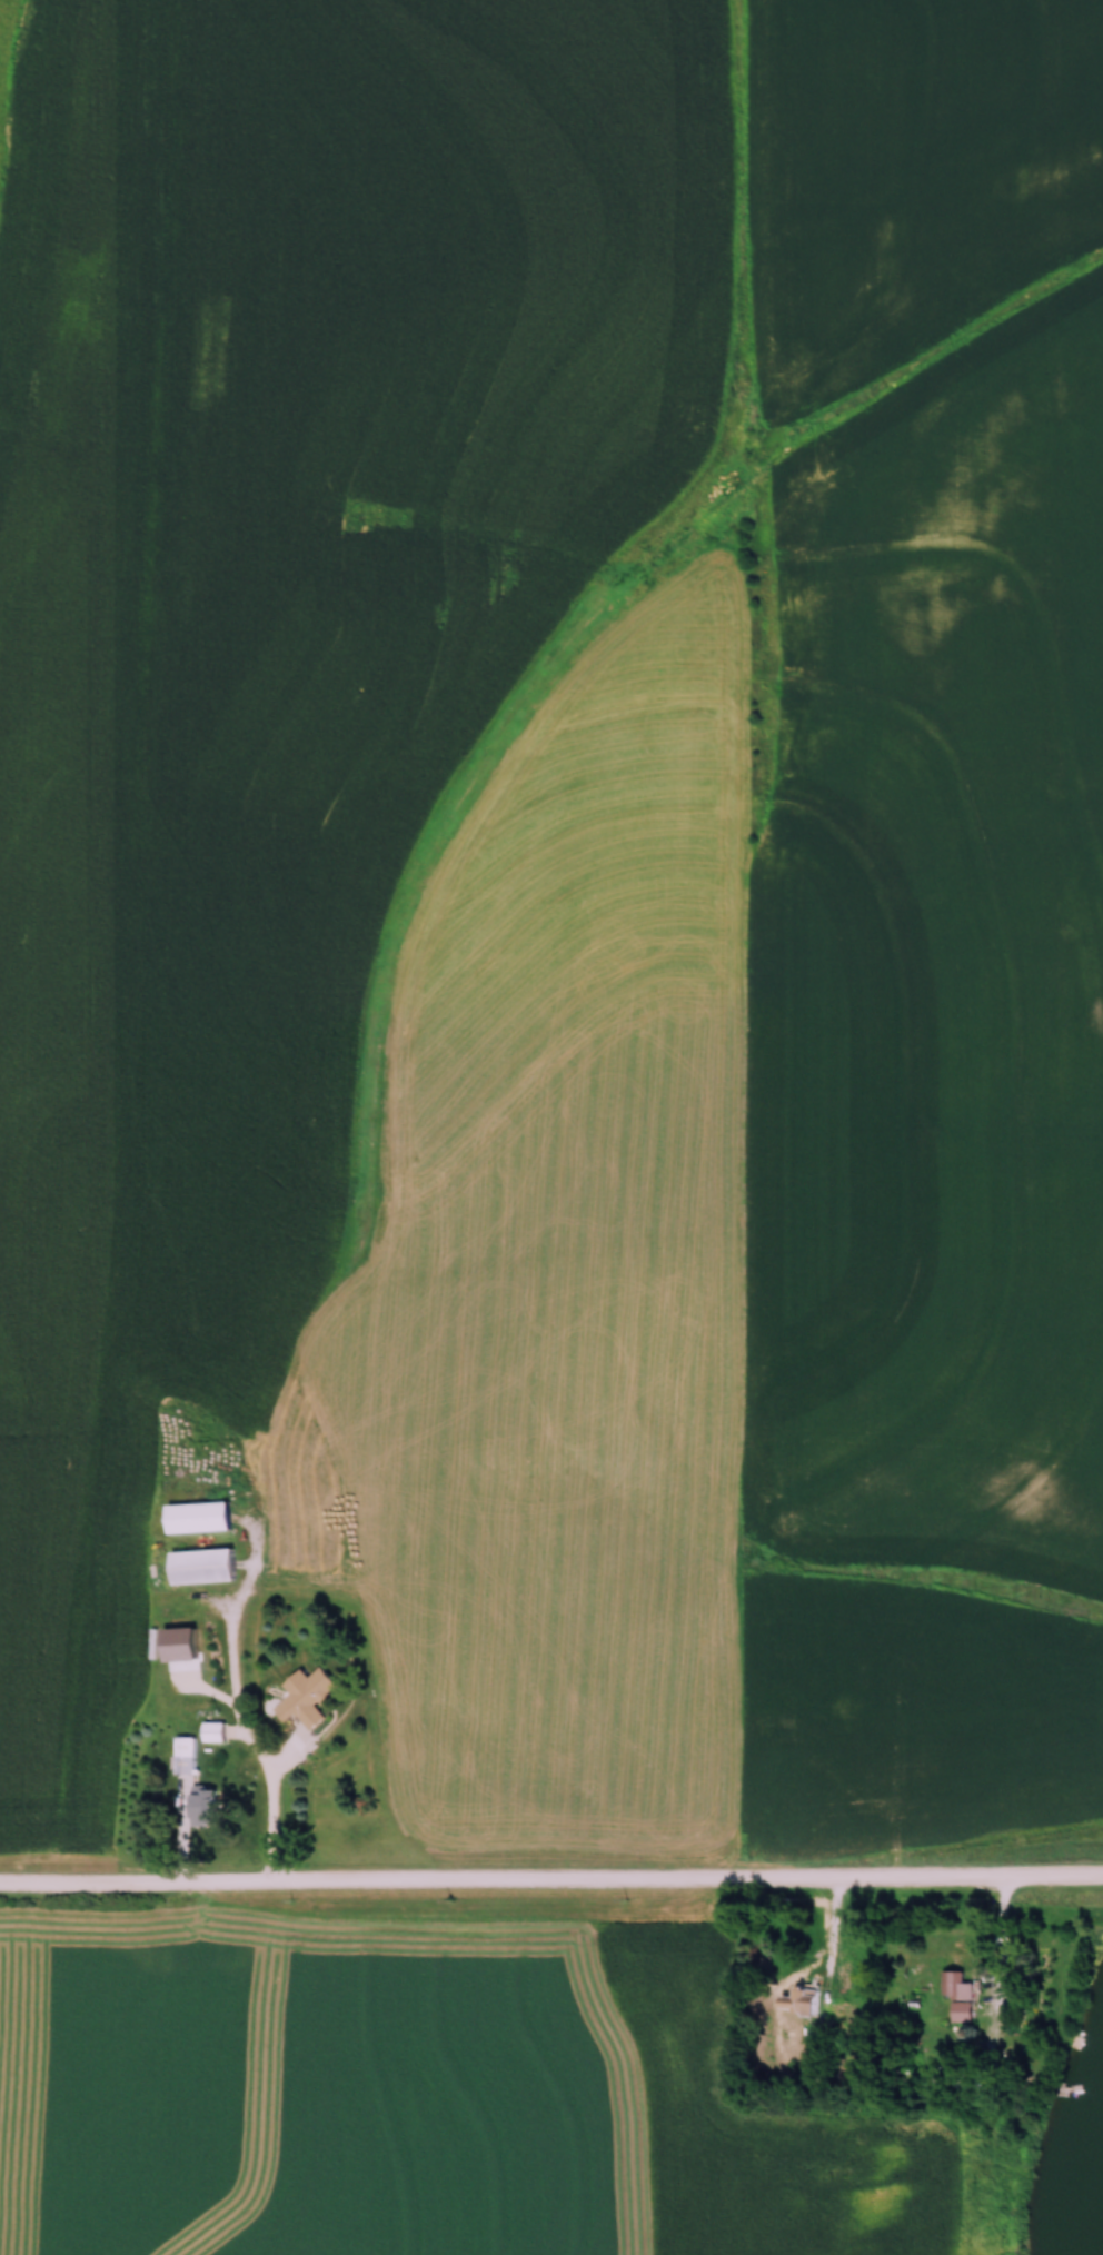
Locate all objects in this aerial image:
building: (196, 1517)
building: (200, 1566)
building: (304, 1697)
building: (211, 1731)
building: (183, 1756)
road: (274, 1800)
building: (201, 1806)
road: (551, 1883)
road: (1004, 1944)
building: (956, 1996)
building: (797, 2001)

